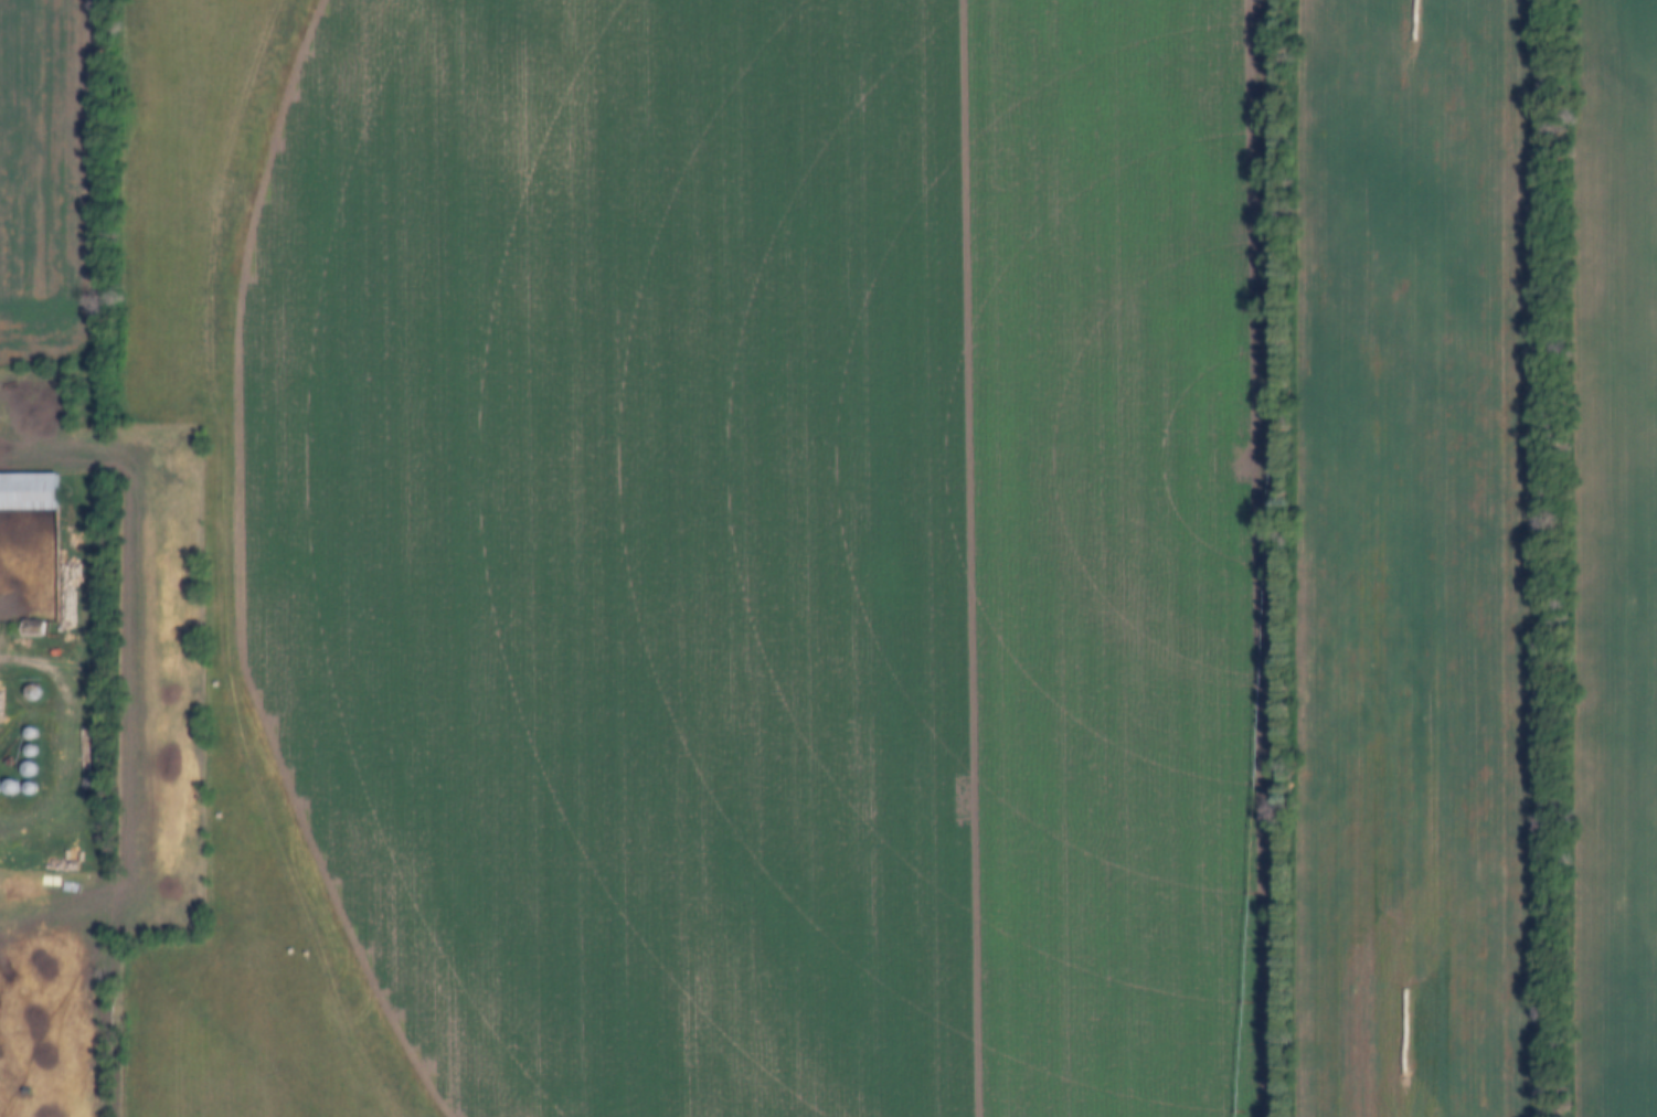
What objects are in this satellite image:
road: (1296, 238)
building: (29, 491)
road: (67, 737)

